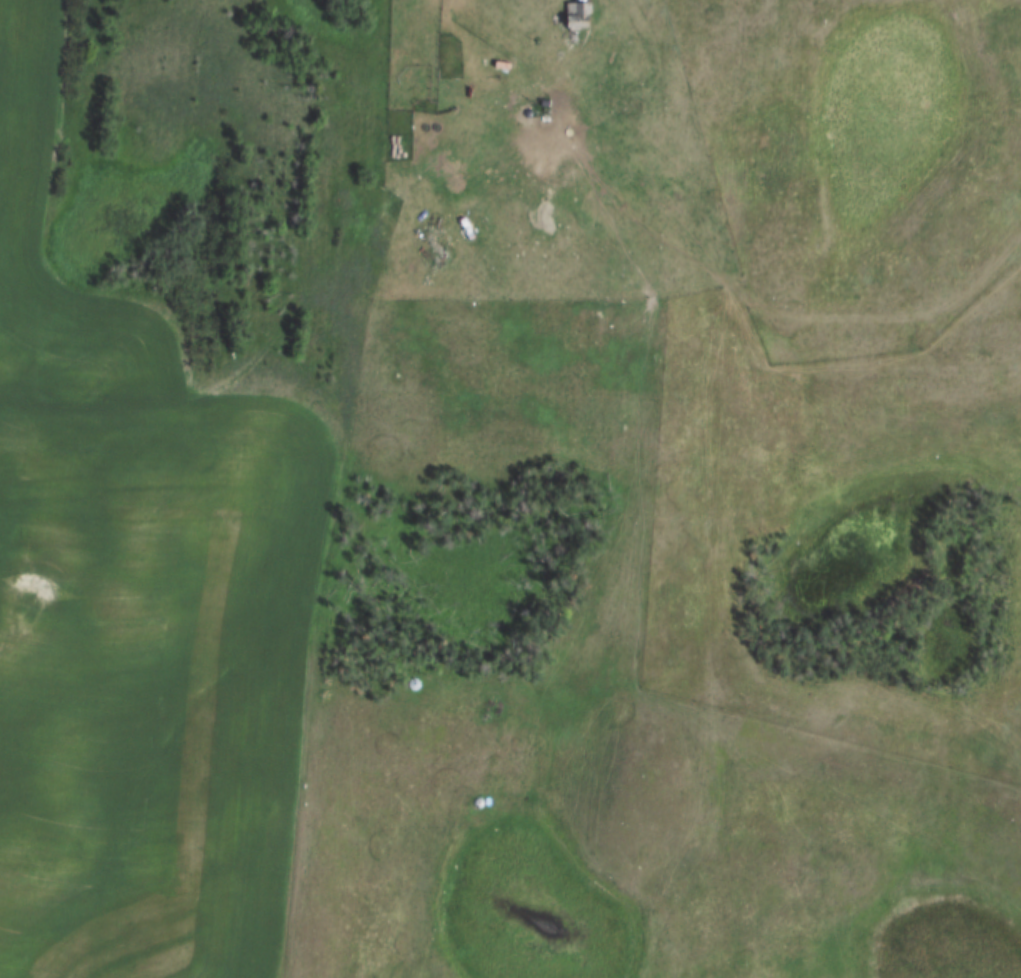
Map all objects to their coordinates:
building: (573, 16)

